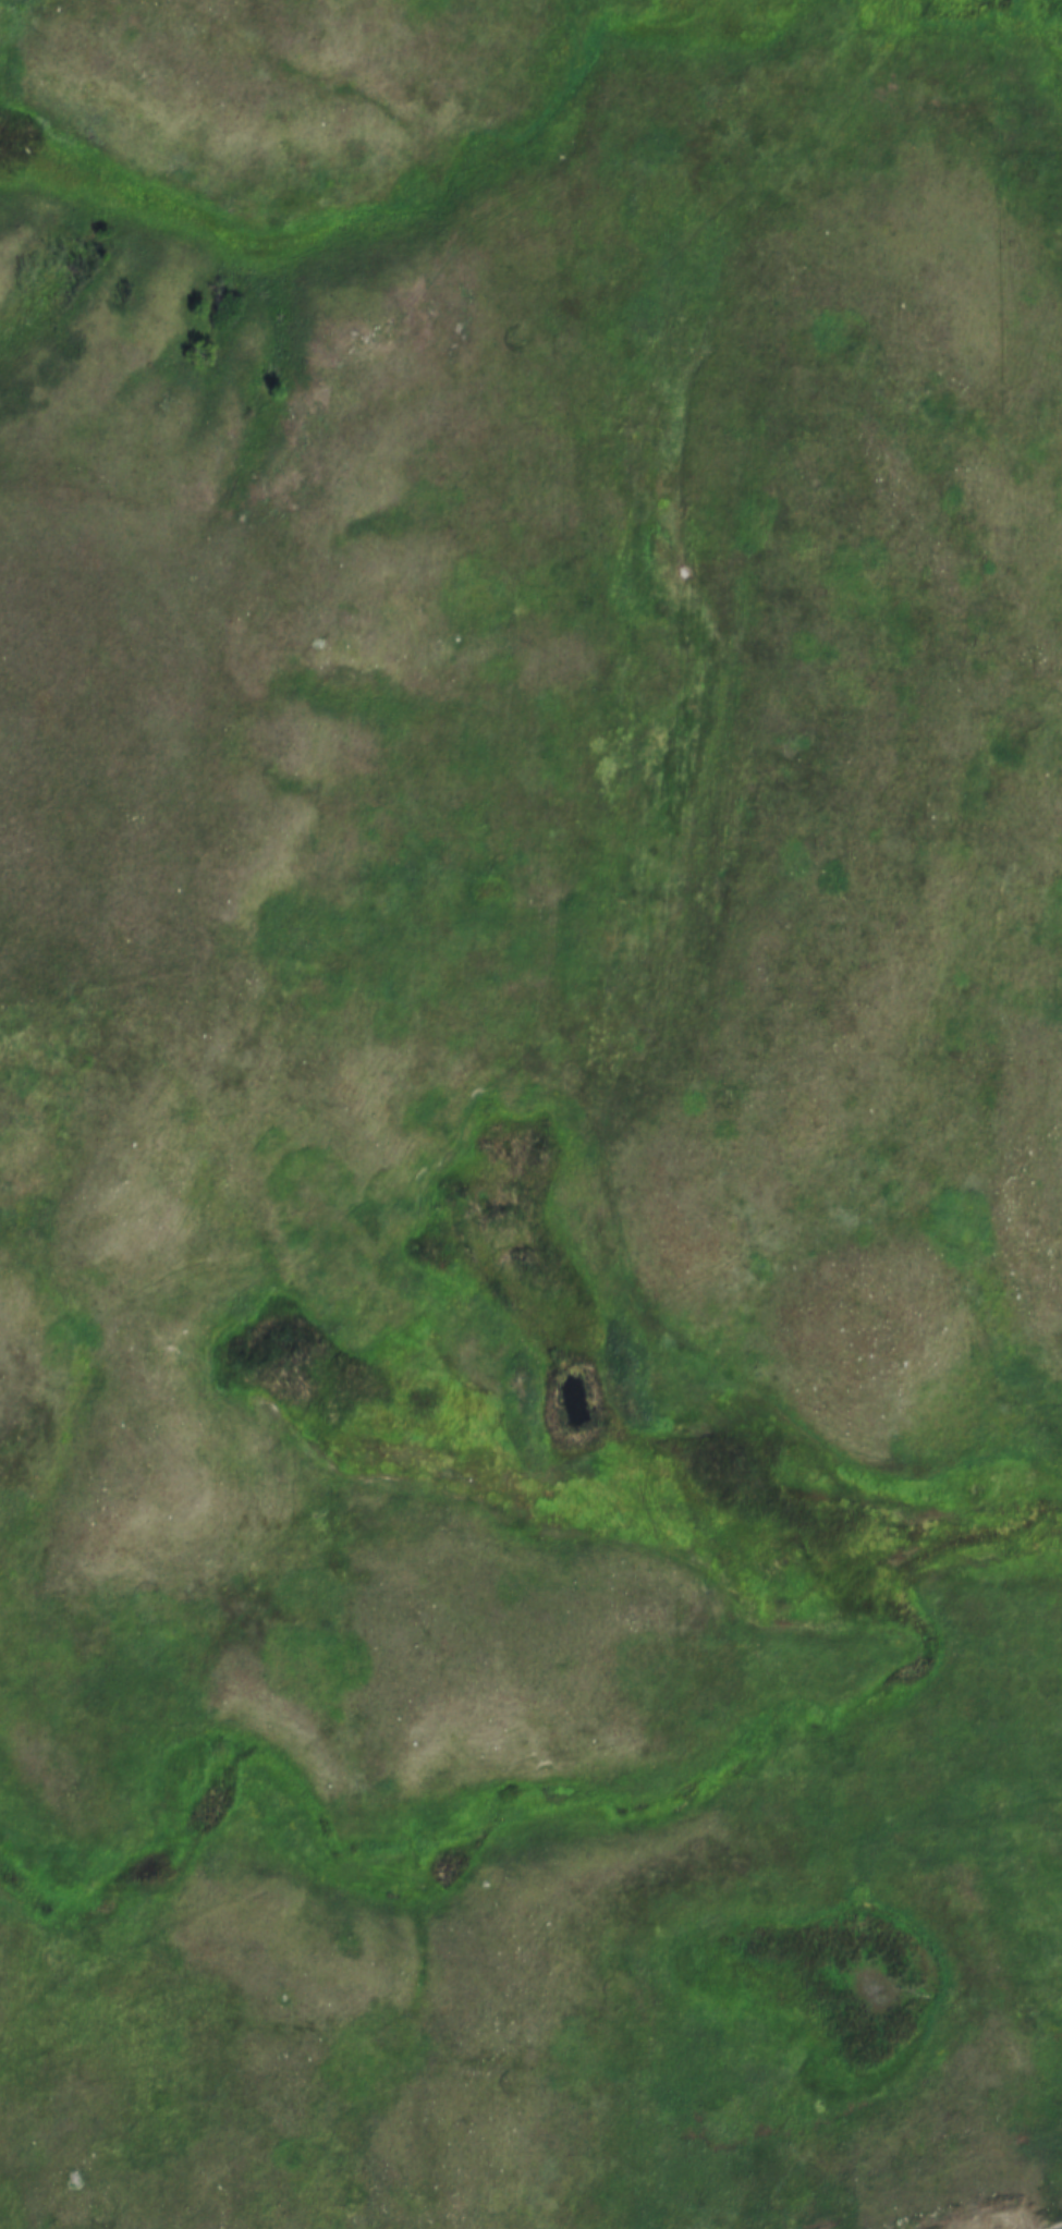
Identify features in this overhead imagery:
railway: (1046, 2224)

